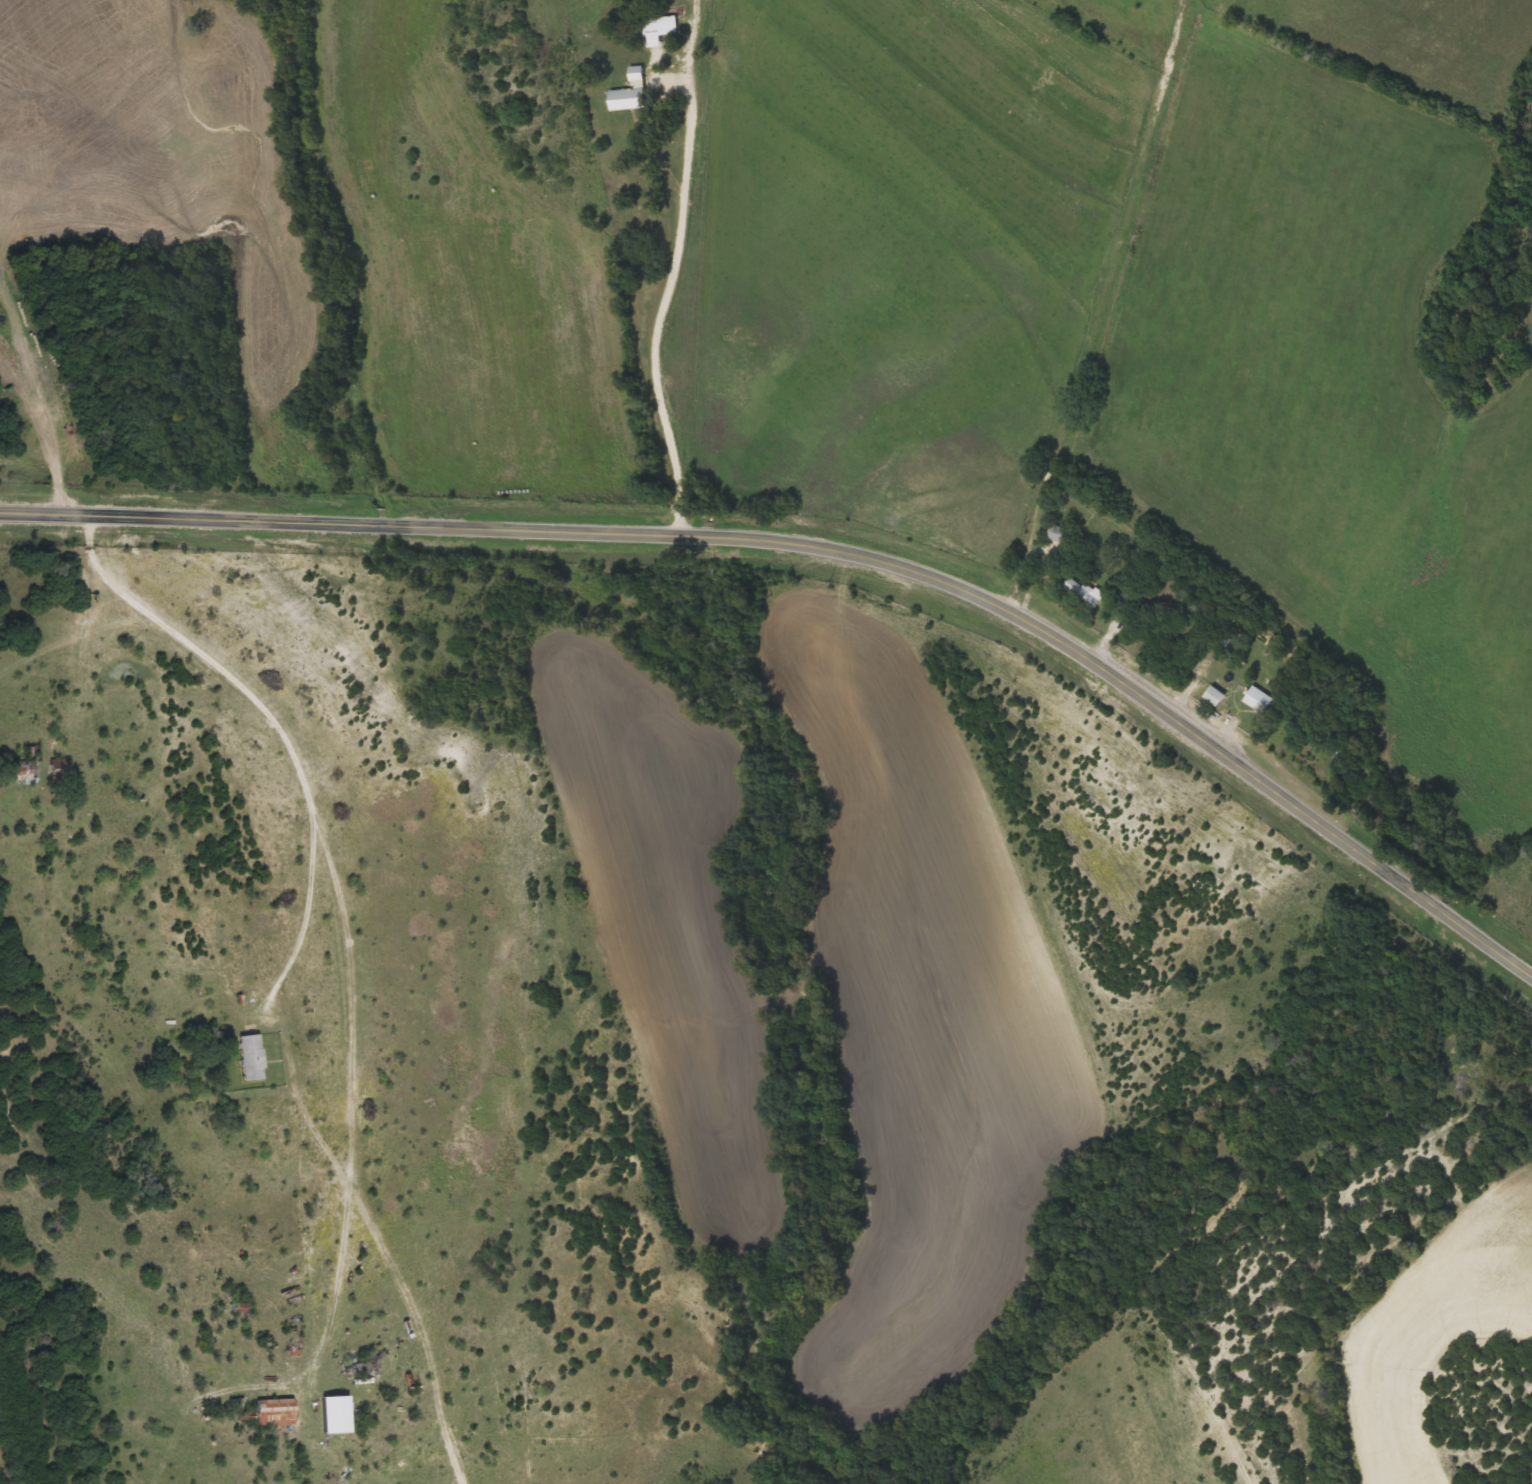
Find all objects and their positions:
building: (661, 29)
building: (632, 93)
road: (1100, 325)
building: (1060, 534)
road: (829, 546)
building: (1085, 592)
building: (1216, 696)
building: (1260, 700)
building: (25, 772)
road: (353, 905)
building: (252, 1057)
building: (276, 1412)
building: (334, 1415)

